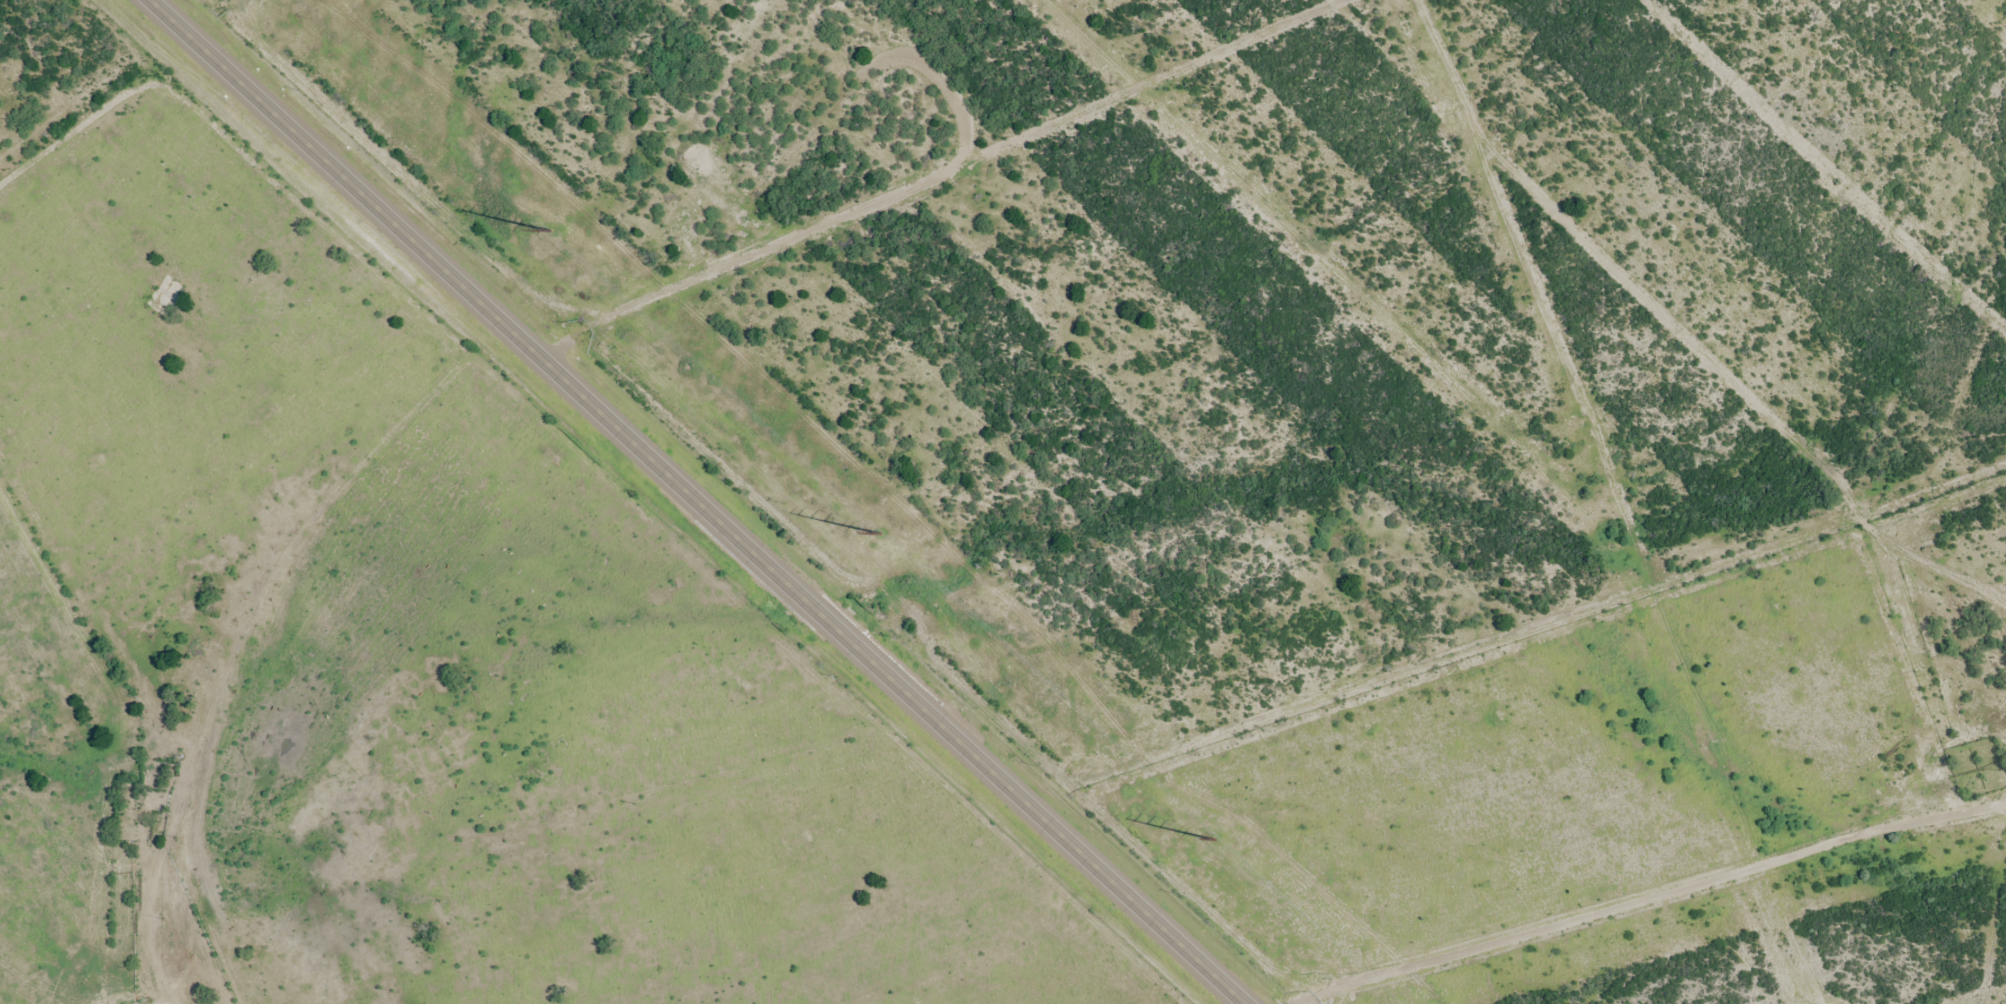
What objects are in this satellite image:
power tower: (1452, 108)
power tower: (550, 231)
power tower: (1583, 426)
road: (694, 501)
power tower: (880, 535)
road: (242, 619)
power tower: (1717, 747)
power tower: (1215, 840)
road: (1670, 904)

